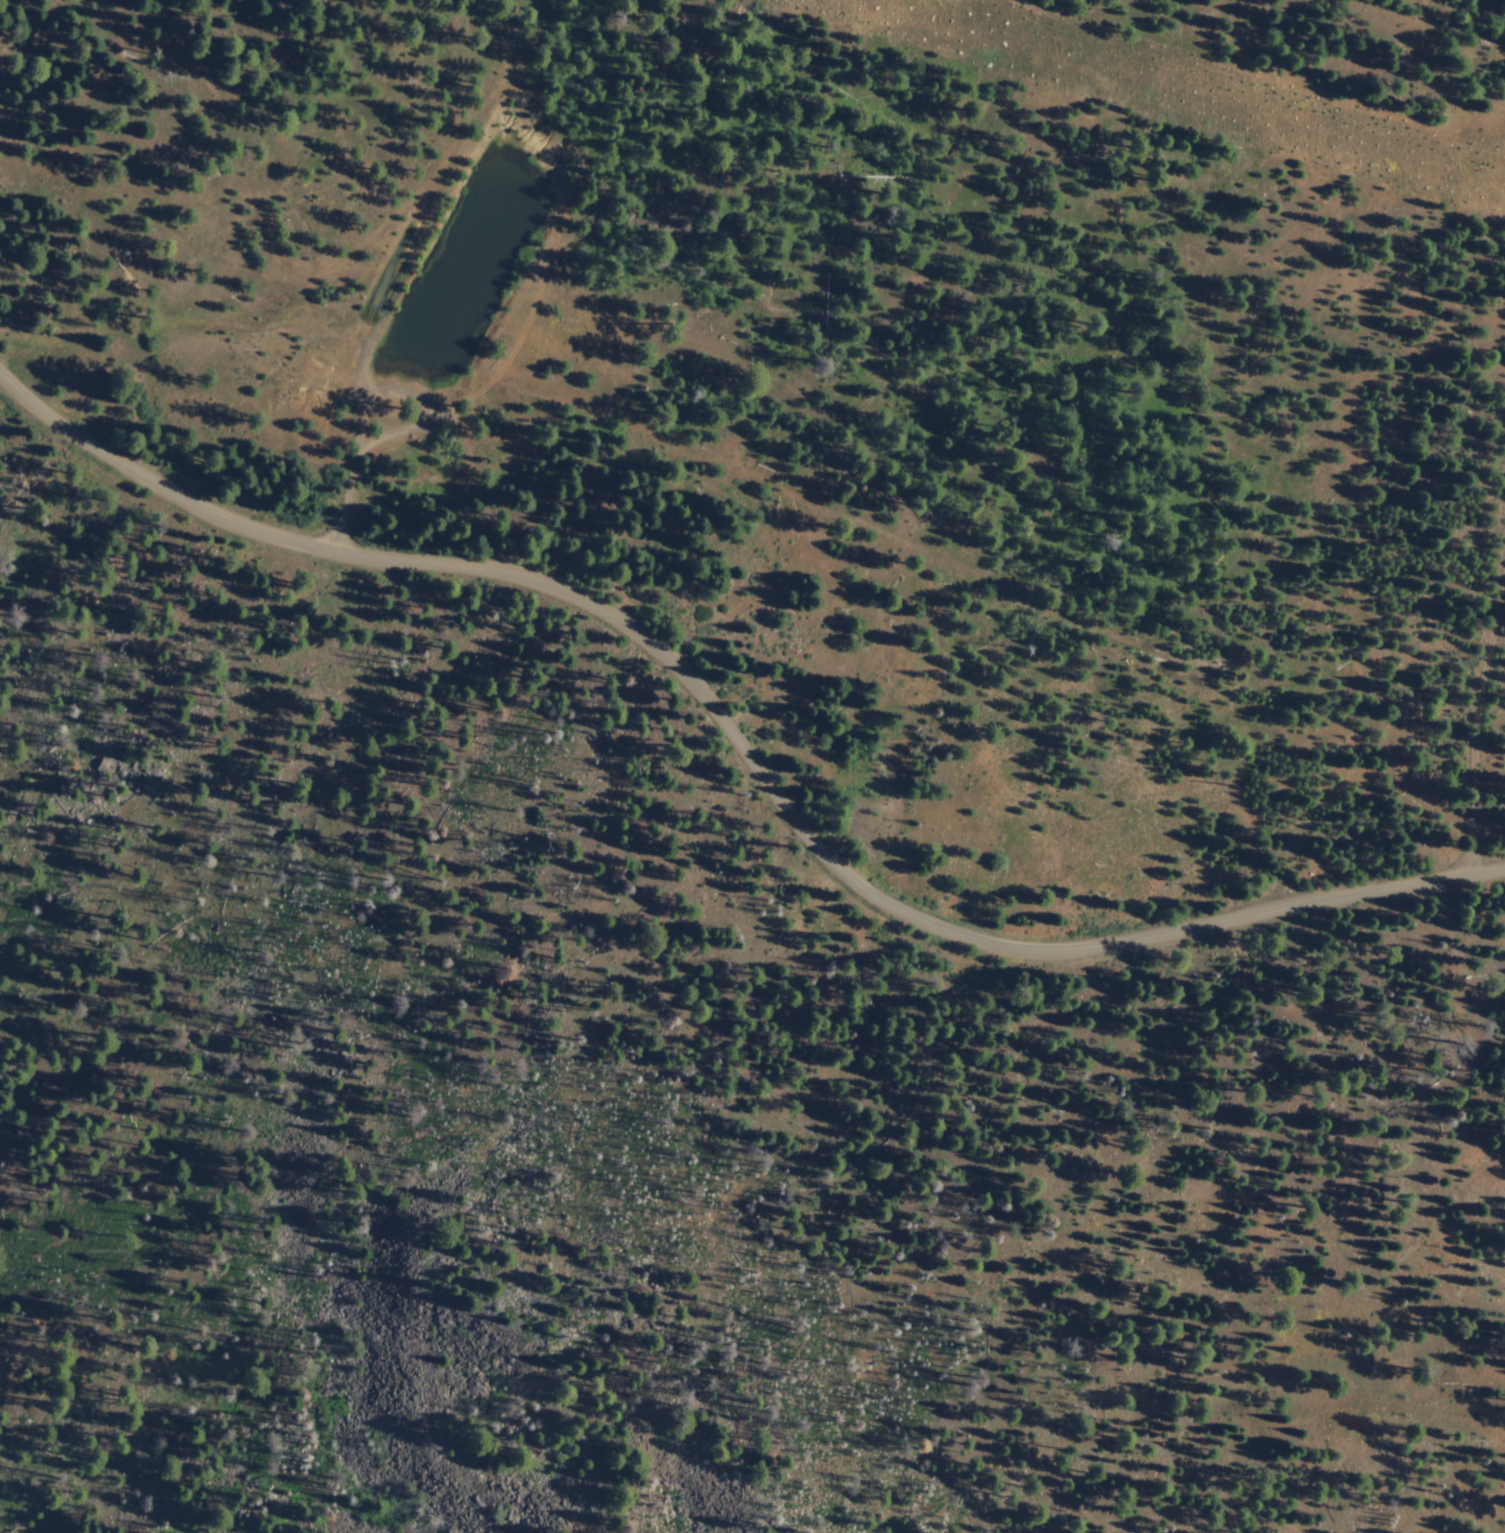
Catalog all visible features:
wastewater plant: (504, 204)
road: (493, 466)
road: (1472, 733)
road: (738, 746)

